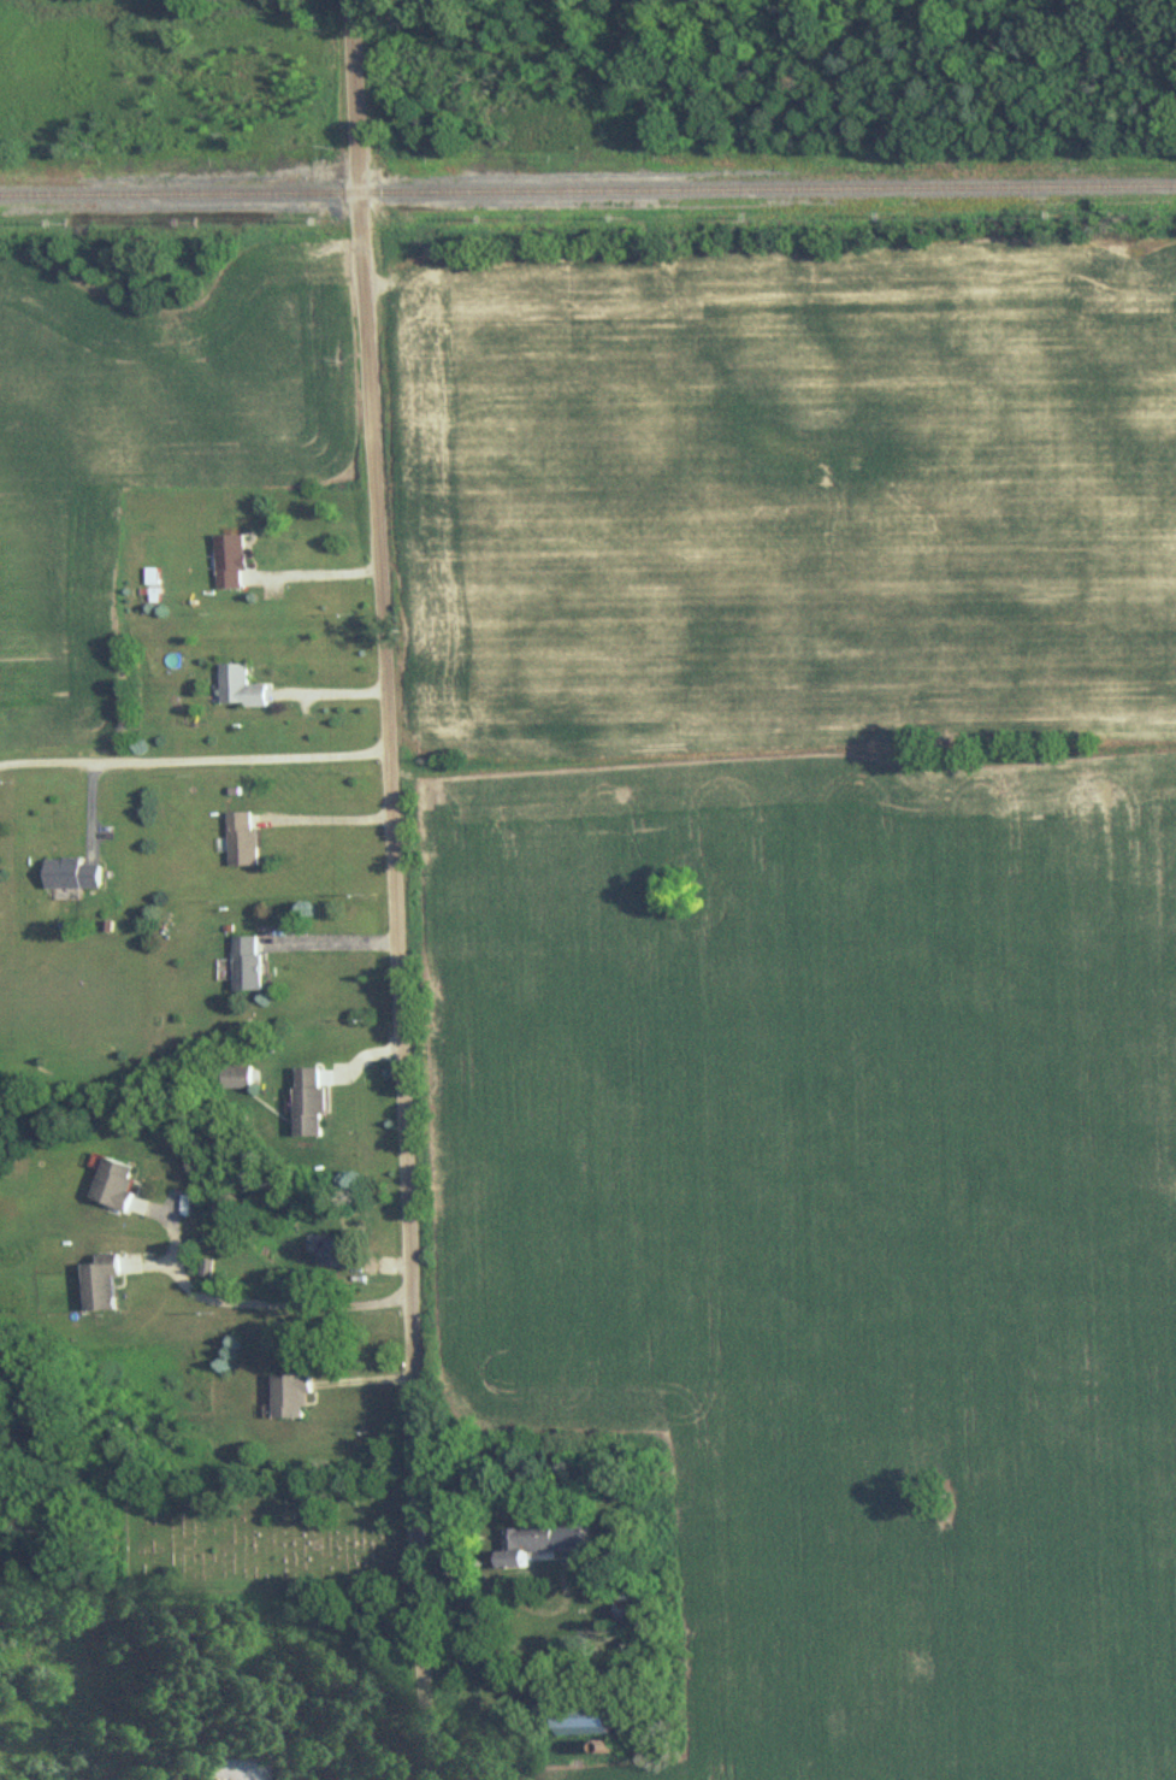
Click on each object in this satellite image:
railway: (587, 189)
building: (234, 562)
road: (309, 573)
building: (243, 689)
road: (191, 745)
road: (324, 818)
building: (244, 839)
building: (76, 873)
road: (390, 889)
road: (330, 941)
building: (249, 962)
building: (238, 1077)
building: (314, 1102)
building: (118, 1185)
building: (343, 1253)
building: (105, 1283)
road: (258, 1305)
building: (294, 1396)
park: (253, 1539)
building: (549, 1542)
road: (543, 1610)
building: (596, 1719)
road: (52, 1744)

